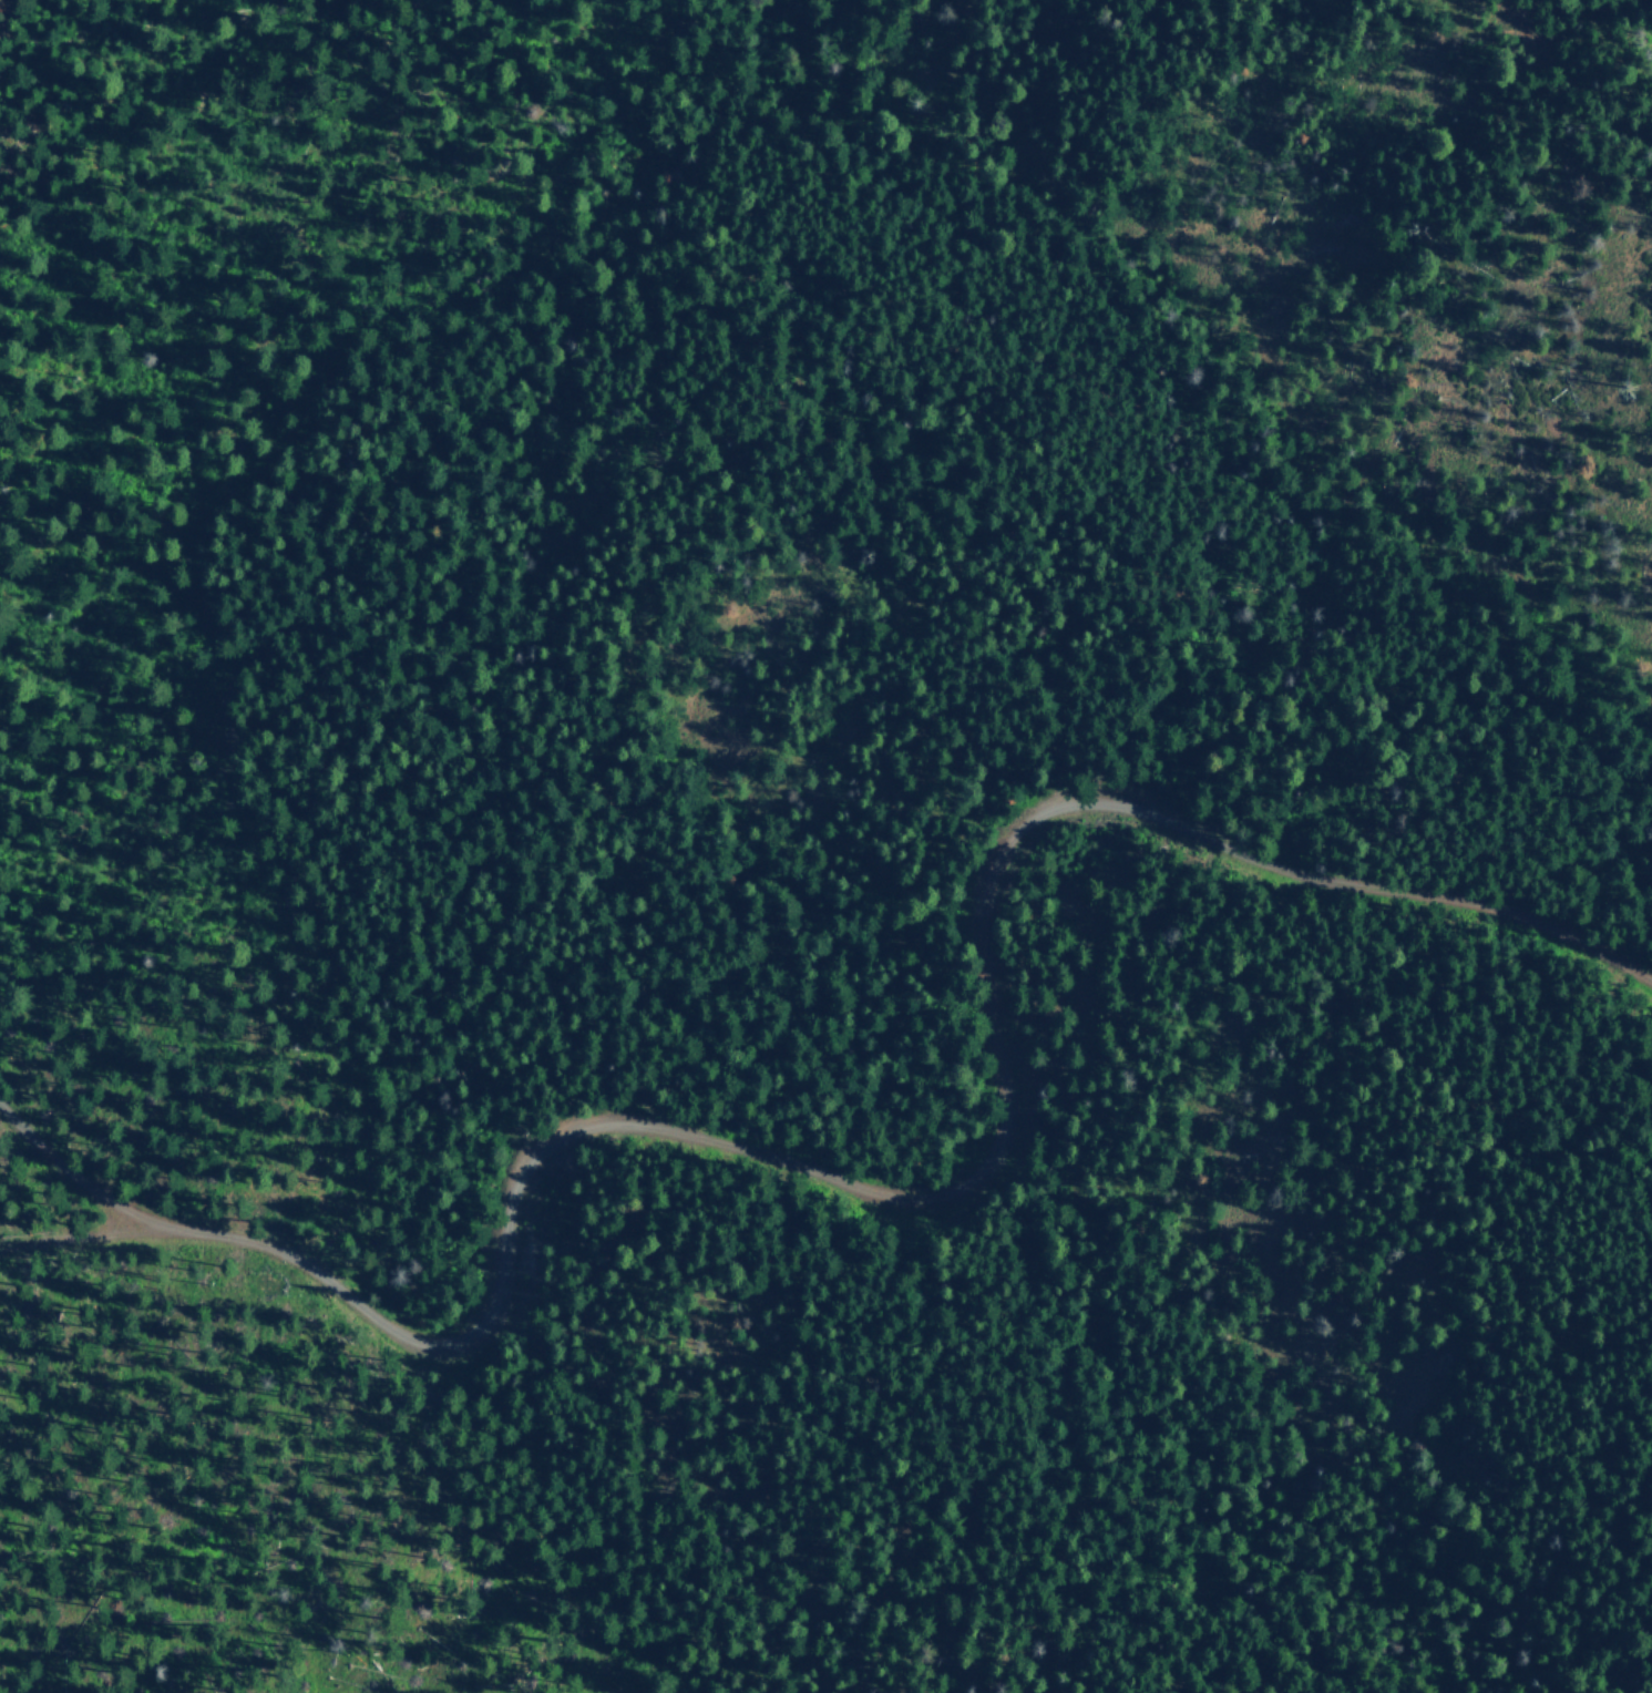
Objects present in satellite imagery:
road: (71, 1168)
road: (909, 1196)

